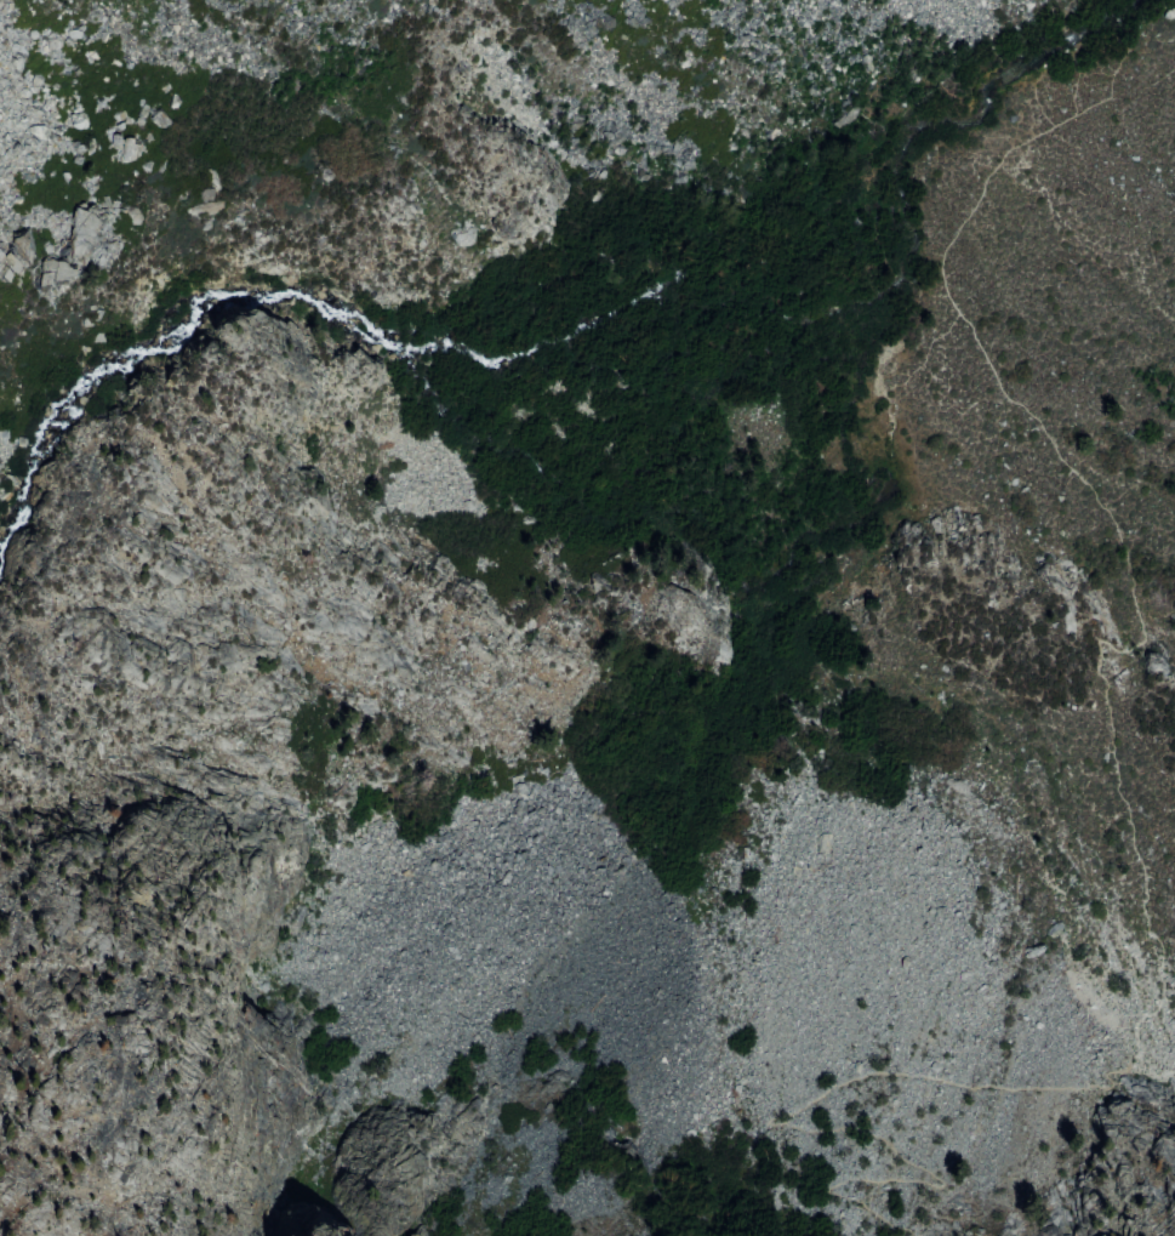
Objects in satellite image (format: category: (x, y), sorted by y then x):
road: (1128, 824)

